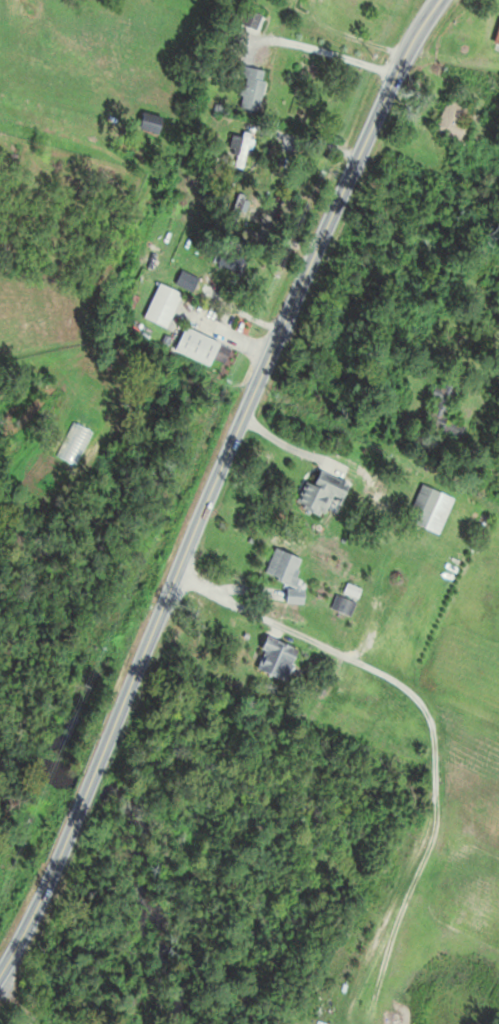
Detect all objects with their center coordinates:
building: (496, 38)
road: (333, 53)
building: (255, 90)
building: (498, 91)
building: (449, 123)
building: (154, 126)
building: (241, 148)
building: (233, 262)
building: (188, 281)
building: (497, 302)
building: (164, 304)
building: (199, 345)
building: (440, 410)
road: (290, 447)
road: (215, 485)
building: (324, 492)
building: (427, 510)
building: (289, 573)
building: (348, 598)
building: (279, 658)
road: (433, 732)

